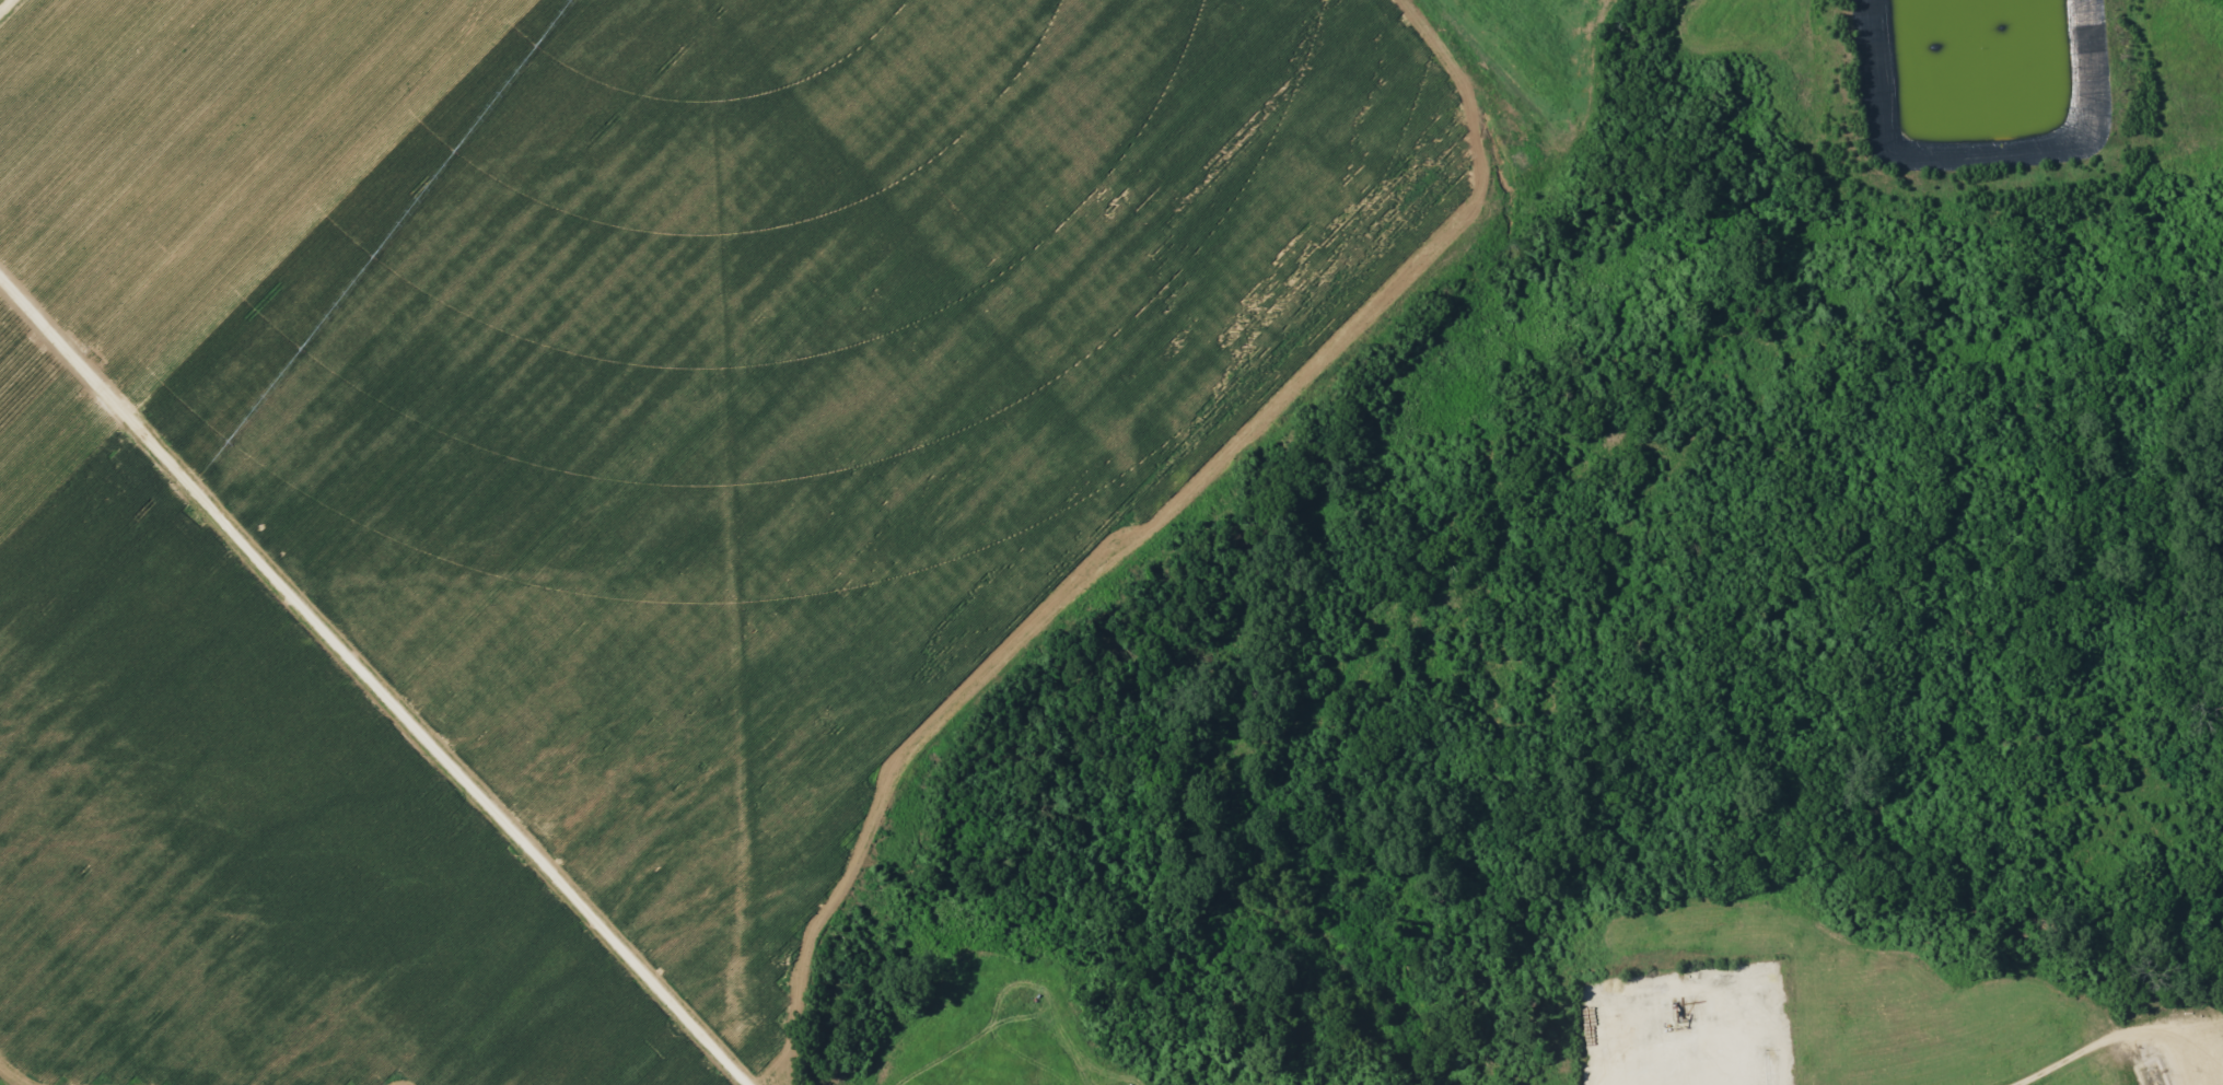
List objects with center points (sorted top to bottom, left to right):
road: (373, 688)
road: (2186, 1011)
road: (2155, 1043)
road: (2065, 1055)
chimney: (2144, 1071)
chimney: (2149, 1082)

